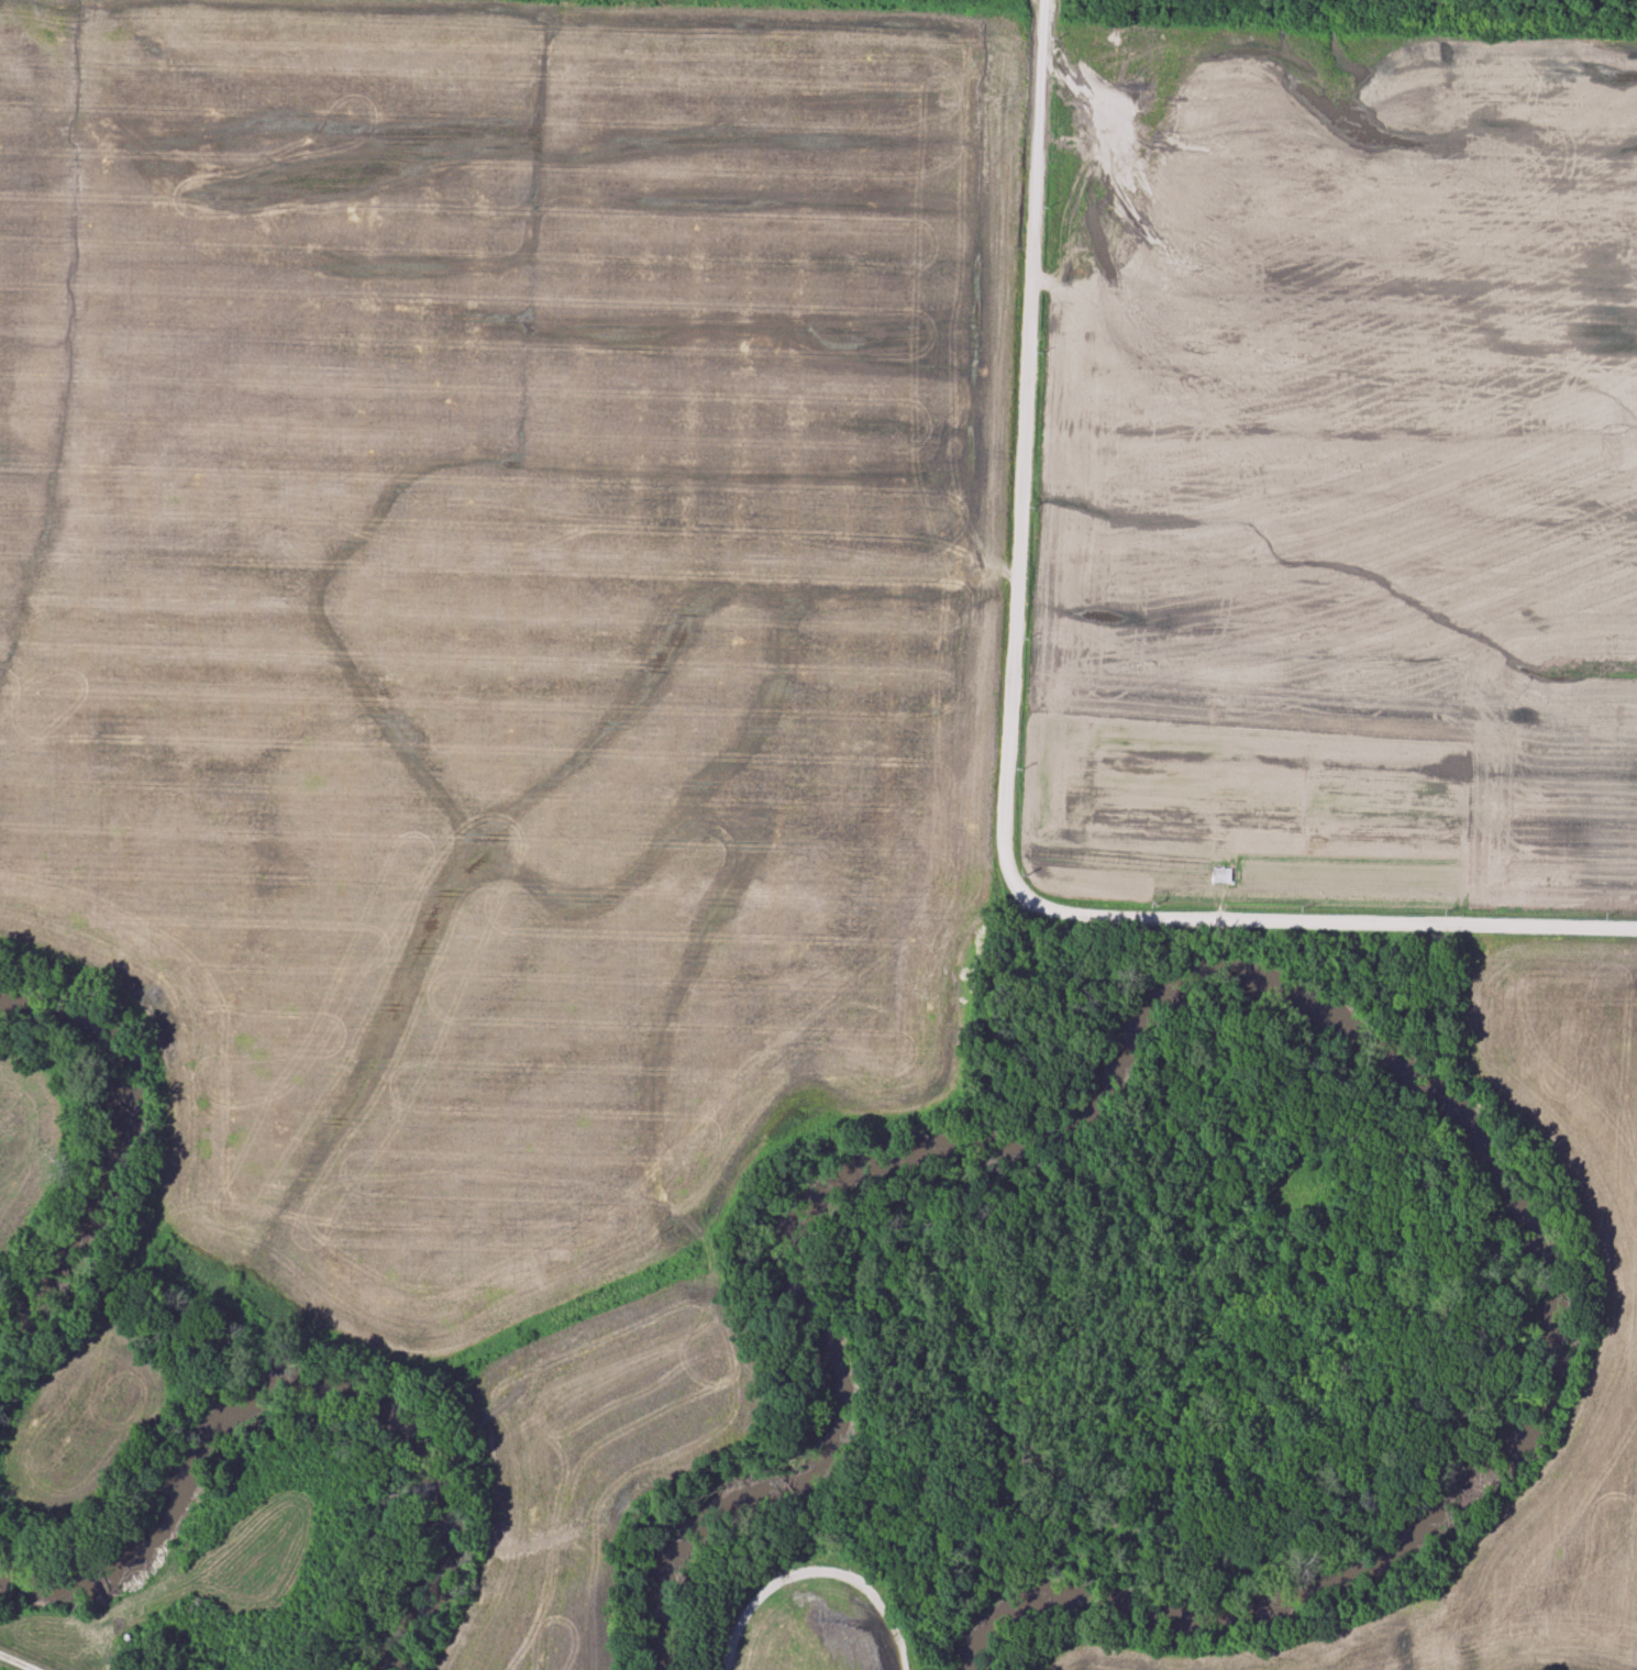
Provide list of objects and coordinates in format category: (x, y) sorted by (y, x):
road: (1027, 450)
road: (1325, 927)
river: (1332, 1018)
river: (107, 1158)
river: (284, 1396)

